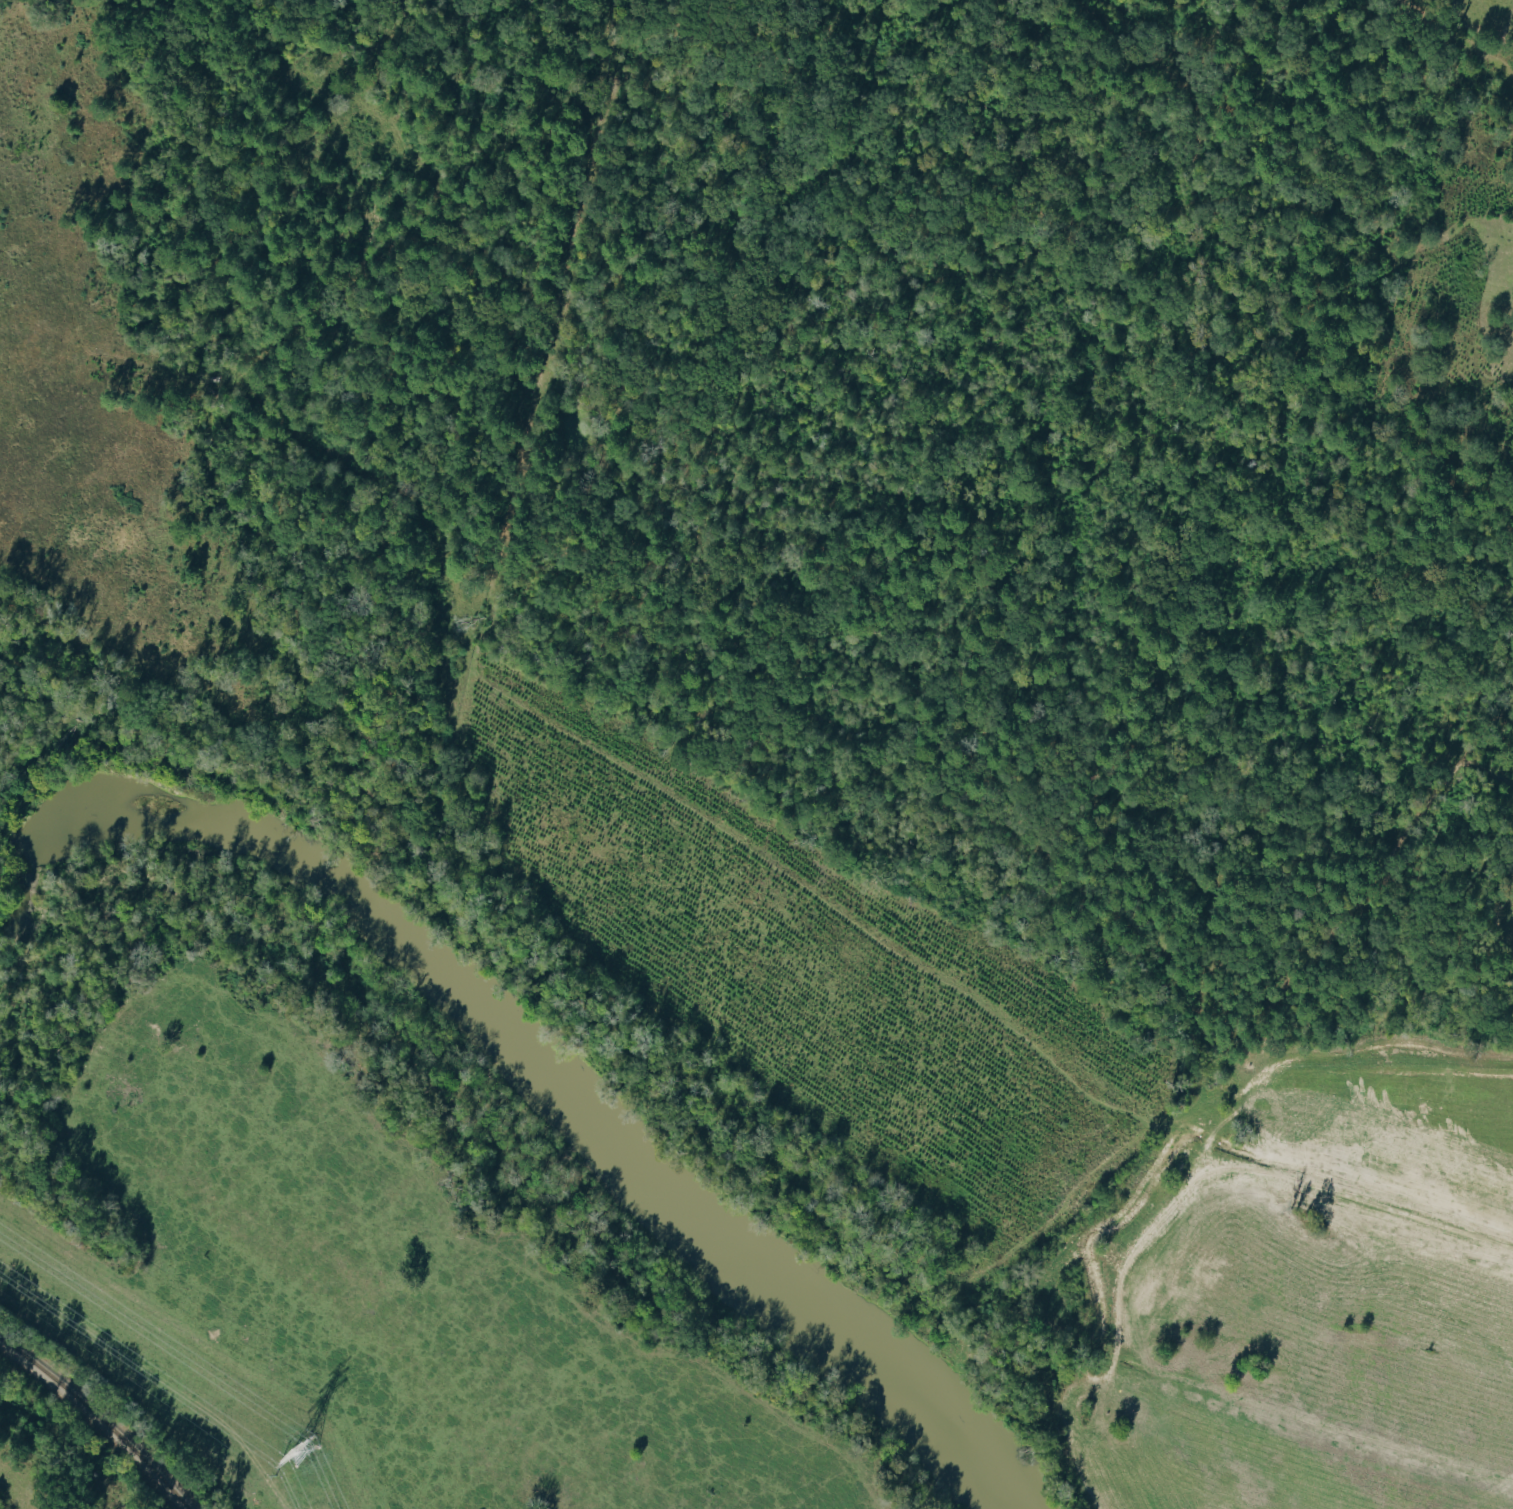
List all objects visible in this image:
river: (495, 1029)
railway: (98, 1418)
power tower: (300, 1453)

